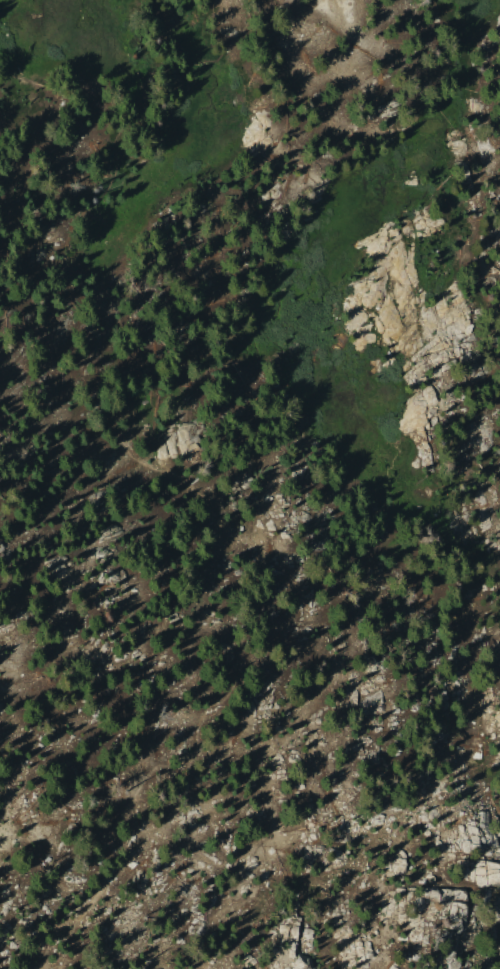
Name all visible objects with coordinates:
road: (183, 477)

